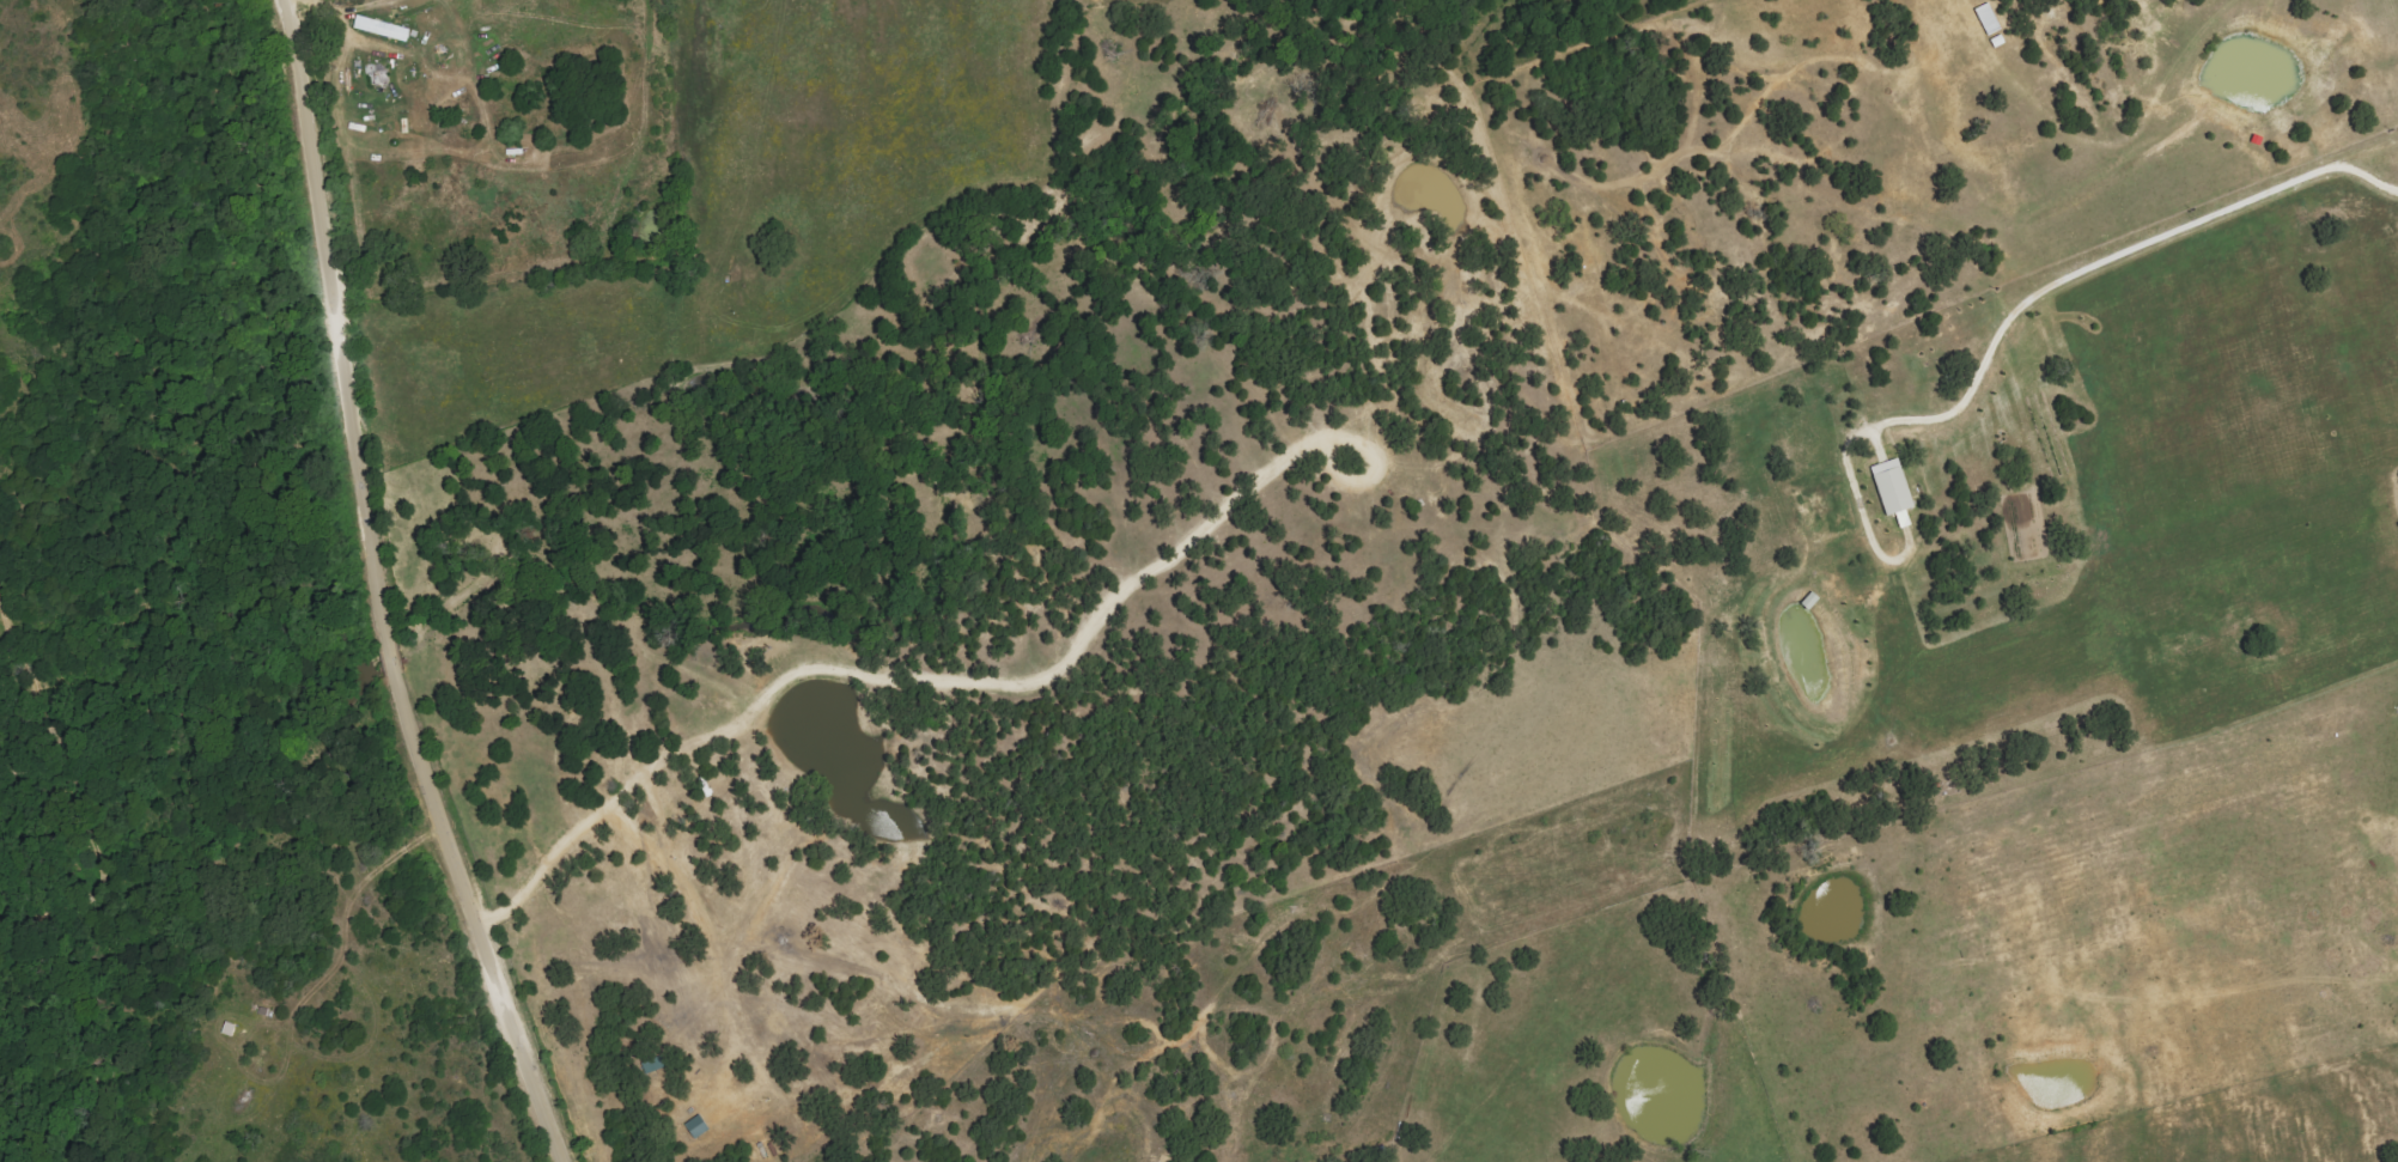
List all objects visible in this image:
road: (288, 4)
road: (292, 4)
building: (383, 28)
road: (2122, 255)
building: (1894, 487)
road: (385, 594)
building: (698, 1126)

